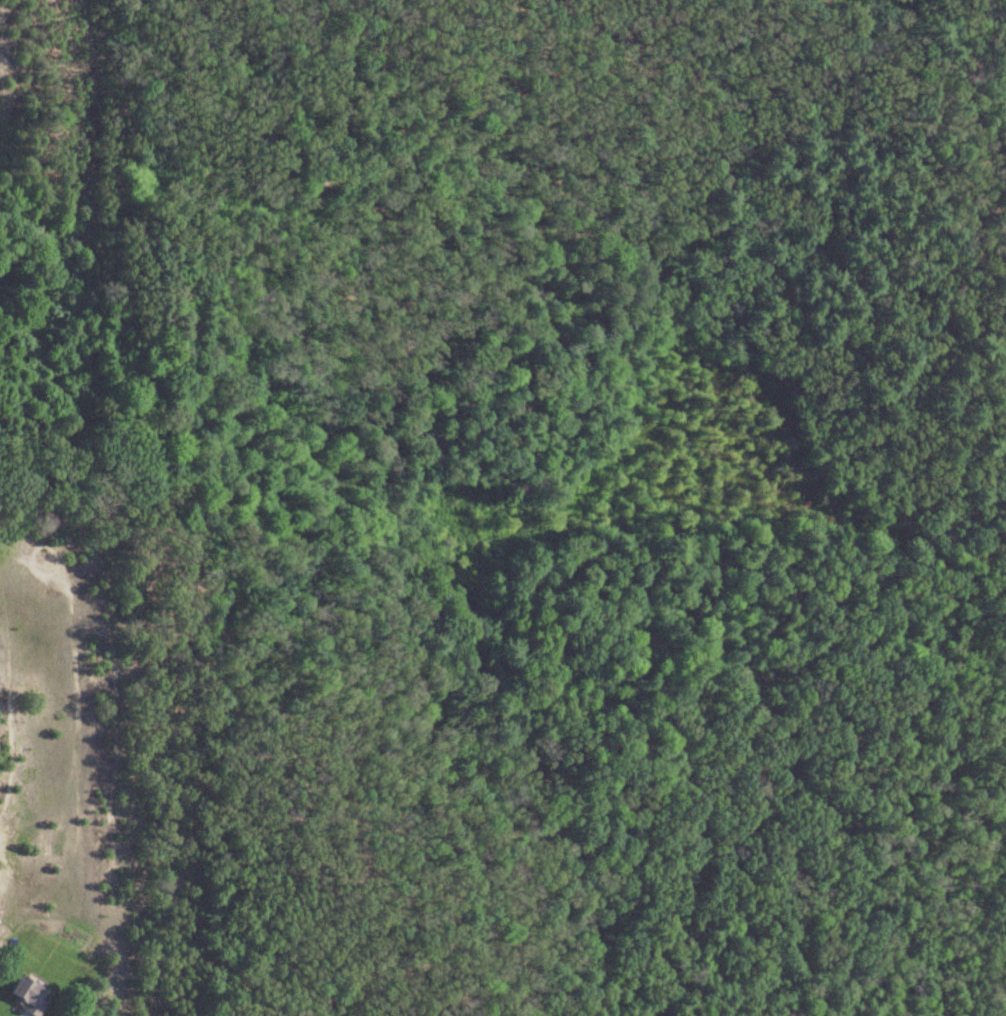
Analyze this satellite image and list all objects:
building: (27, 995)

